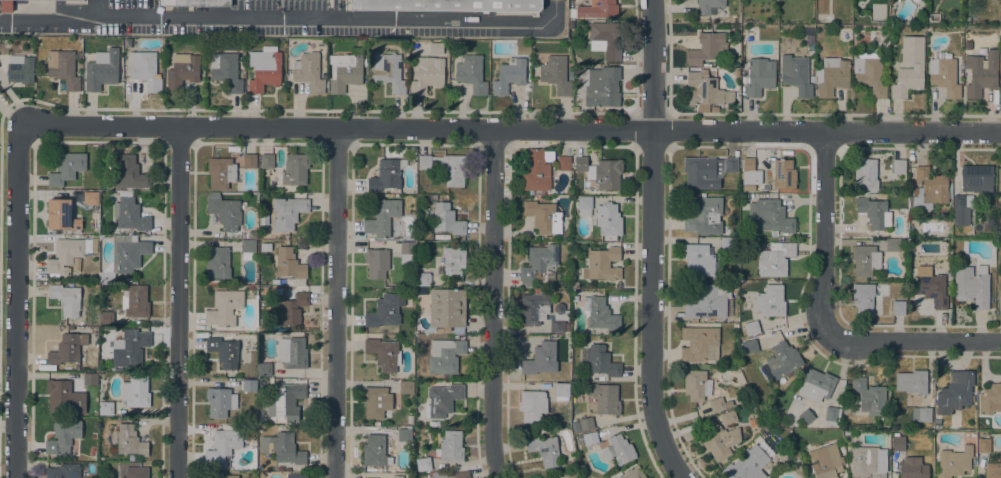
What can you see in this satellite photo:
parking lot: (132, 3)
building: (194, 3)
parking lot: (286, 4)
building: (5, 5)
building: (446, 5)
building: (709, 6)
road: (96, 7)
building: (594, 9)
road: (283, 16)
building: (933, 17)
building: (571, 24)
building: (876, 27)
parking lot: (47, 29)
parking lot: (252, 29)
parking lot: (445, 31)
building: (852, 31)
building: (809, 36)
building: (605, 39)
building: (707, 47)
building: (436, 48)
building: (404, 65)
building: (872, 66)
building: (20, 68)
building: (63, 68)
building: (264, 68)
building: (144, 69)
building: (101, 70)
building: (226, 70)
building: (182, 71)
building: (308, 71)
building: (344, 71)
building: (389, 71)
building: (471, 73)
building: (944, 73)
building: (980, 73)
building: (427, 74)
building: (555, 74)
building: (795, 74)
building: (509, 75)
building: (759, 75)
building: (570, 76)
building: (831, 76)
building: (811, 78)
building: (907, 80)
building: (602, 86)
building: (1000, 86)
building: (704, 89)
road: (510, 130)
building: (249, 161)
building: (266, 161)
building: (563, 163)
building: (730, 165)
building: (898, 166)
building: (446, 167)
building: (67, 168)
building: (295, 169)
building: (536, 169)
building: (602, 171)
building: (127, 172)
building: (221, 172)
building: (702, 172)
building: (750, 172)
building: (386, 174)
building: (783, 174)
building: (865, 174)
building: (976, 178)
building: (999, 178)
building: (928, 189)
building: (744, 195)
building: (90, 197)
building: (1000, 200)
building: (584, 205)
building: (961, 209)
building: (224, 211)
building: (129, 212)
building: (287, 212)
building: (874, 212)
building: (61, 215)
building: (704, 215)
building: (543, 216)
building: (770, 216)
building: (381, 217)
building: (263, 219)
building: (446, 219)
building: (608, 219)
road: (824, 232)
road: (651, 242)
building: (728, 243)
building: (892, 244)
building: (264, 246)
building: (406, 247)
building: (248, 249)
building: (126, 254)
building: (64, 255)
building: (775, 259)
building: (698, 260)
building: (865, 260)
building: (453, 261)
building: (217, 262)
building: (376, 262)
building: (76, 263)
building: (539, 264)
building: (602, 264)
building: (289, 267)
building: (422, 279)
building: (575, 285)
building: (972, 285)
building: (932, 289)
building: (536, 291)
building: (66, 298)
building: (863, 298)
building: (770, 300)
building: (999, 300)
building: (137, 301)
building: (710, 301)
road: (177, 302)
road: (15, 303)
road: (335, 303)
road: (491, 304)
building: (534, 307)
building: (224, 308)
building: (447, 308)
building: (898, 308)
building: (290, 309)
building: (386, 310)
building: (599, 313)
building: (106, 317)
building: (558, 318)
building: (751, 327)
building: (142, 329)
road: (911, 340)
building: (699, 344)
building: (750, 346)
building: (67, 348)
building: (129, 348)
building: (224, 351)
building: (292, 352)
building: (384, 353)
building: (445, 356)
building: (541, 359)
building: (600, 361)
building: (781, 363)
building: (263, 369)
building: (446, 377)
building: (576, 377)
building: (90, 379)
building: (911, 382)
building: (696, 384)
building: (249, 385)
building: (816, 385)
building: (406, 387)
building: (561, 391)
building: (135, 392)
building: (954, 392)
building: (58, 393)
building: (869, 396)
building: (443, 399)
building: (990, 399)
building: (607, 400)
building: (220, 401)
building: (286, 401)
building: (376, 401)
building: (718, 404)
building: (532, 405)
building: (105, 408)
building: (921, 414)
building: (831, 415)
building: (806, 417)
building: (728, 418)
building: (383, 422)
building: (434, 423)
building: (586, 423)
building: (779, 423)
building: (786, 424)
building: (404, 433)
building: (63, 435)
building: (94, 435)
building: (590, 438)
building: (130, 441)
building: (719, 441)
building: (898, 442)
building: (222, 445)
building: (983, 445)
building: (451, 446)
building: (282, 448)
building: (544, 449)
building: (618, 449)
building: (375, 450)
building: (824, 461)
building: (865, 462)
building: (954, 462)
building: (423, 463)
building: (747, 464)
building: (912, 468)
building: (993, 470)
building: (63, 471)
building: (135, 472)
building: (633, 473)
building: (460, 474)
building: (571, 474)
building: (222, 476)
building: (296, 476)
building: (397, 477)

